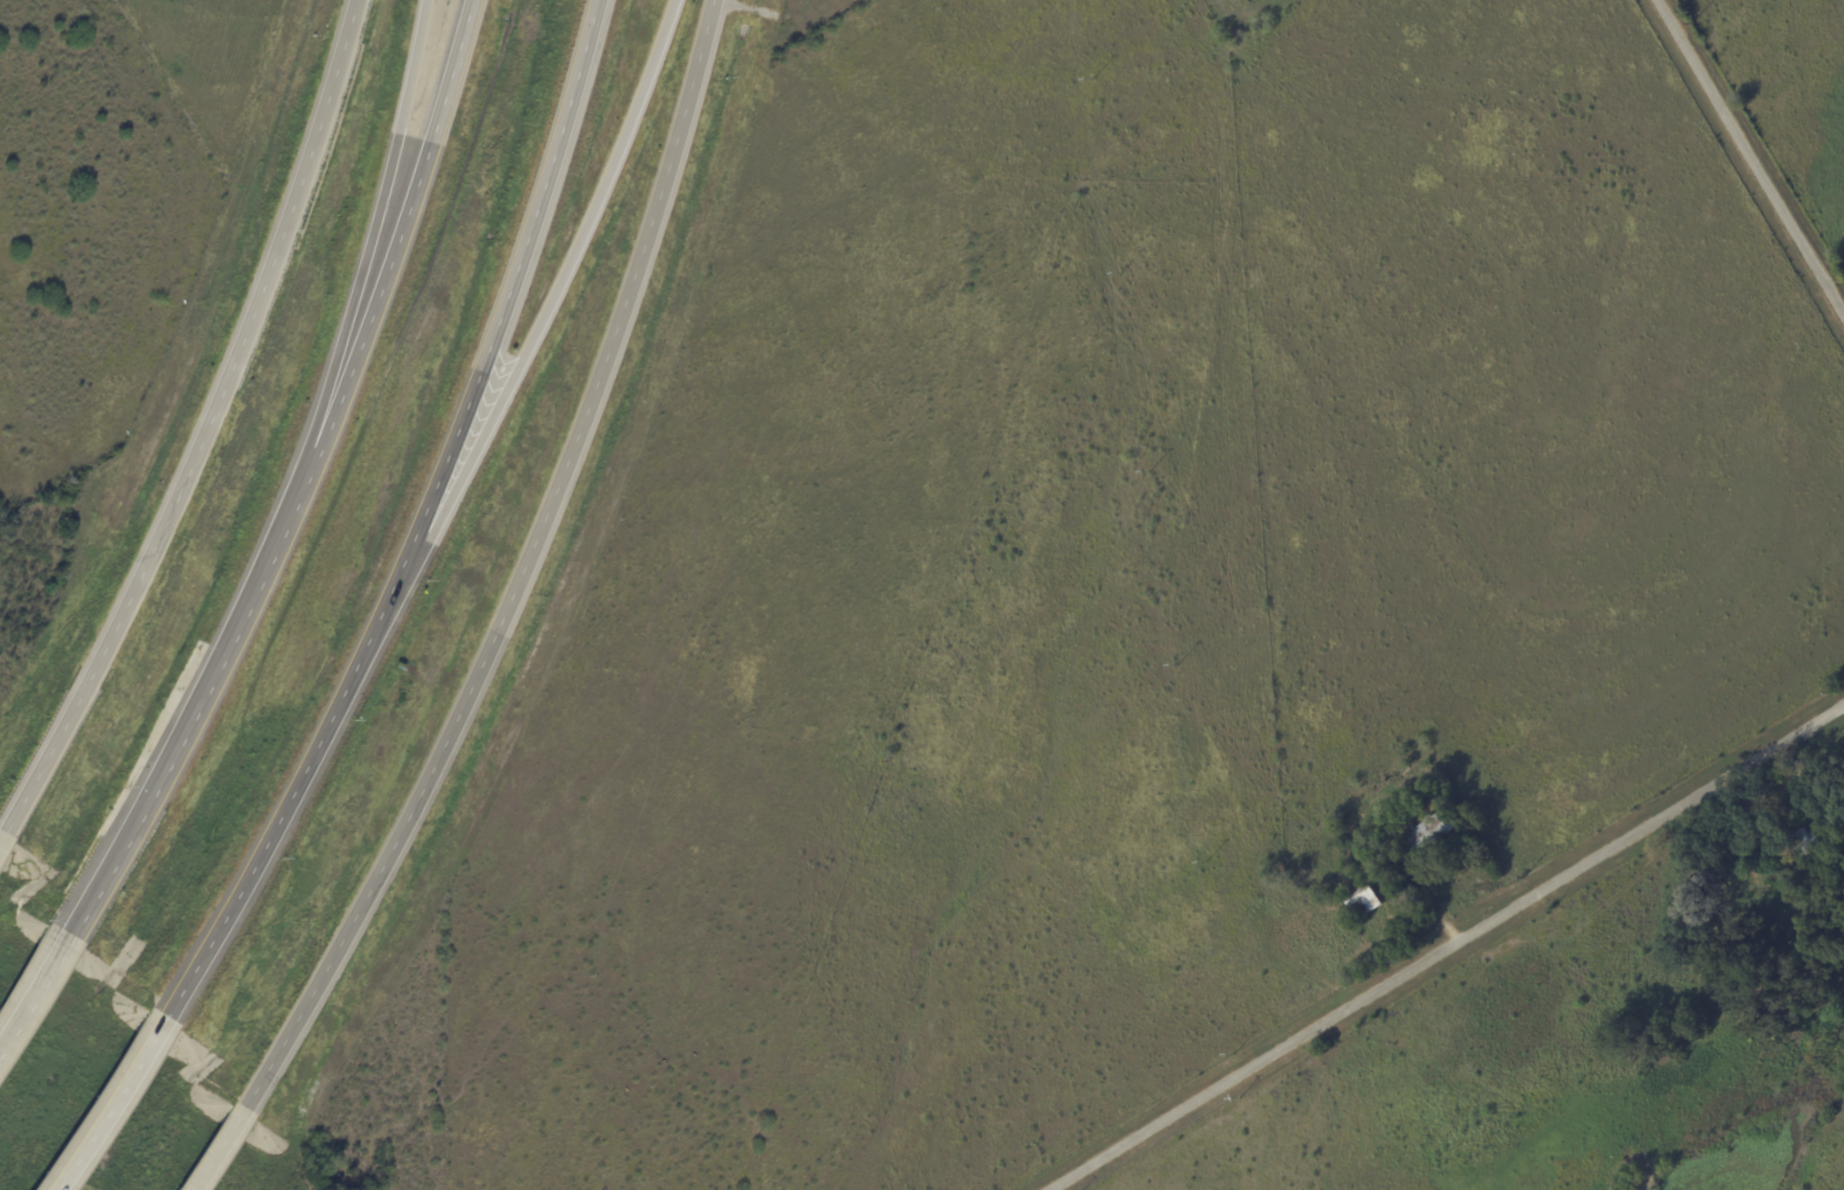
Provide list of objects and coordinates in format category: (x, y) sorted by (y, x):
road: (1749, 159)
road: (368, 244)
road: (525, 350)
road: (202, 432)
road: (299, 483)
road: (417, 528)
road: (519, 576)
building: (1433, 832)
building: (1364, 898)
road: (1449, 949)
road: (33, 993)
road: (107, 1107)
road: (218, 1154)

